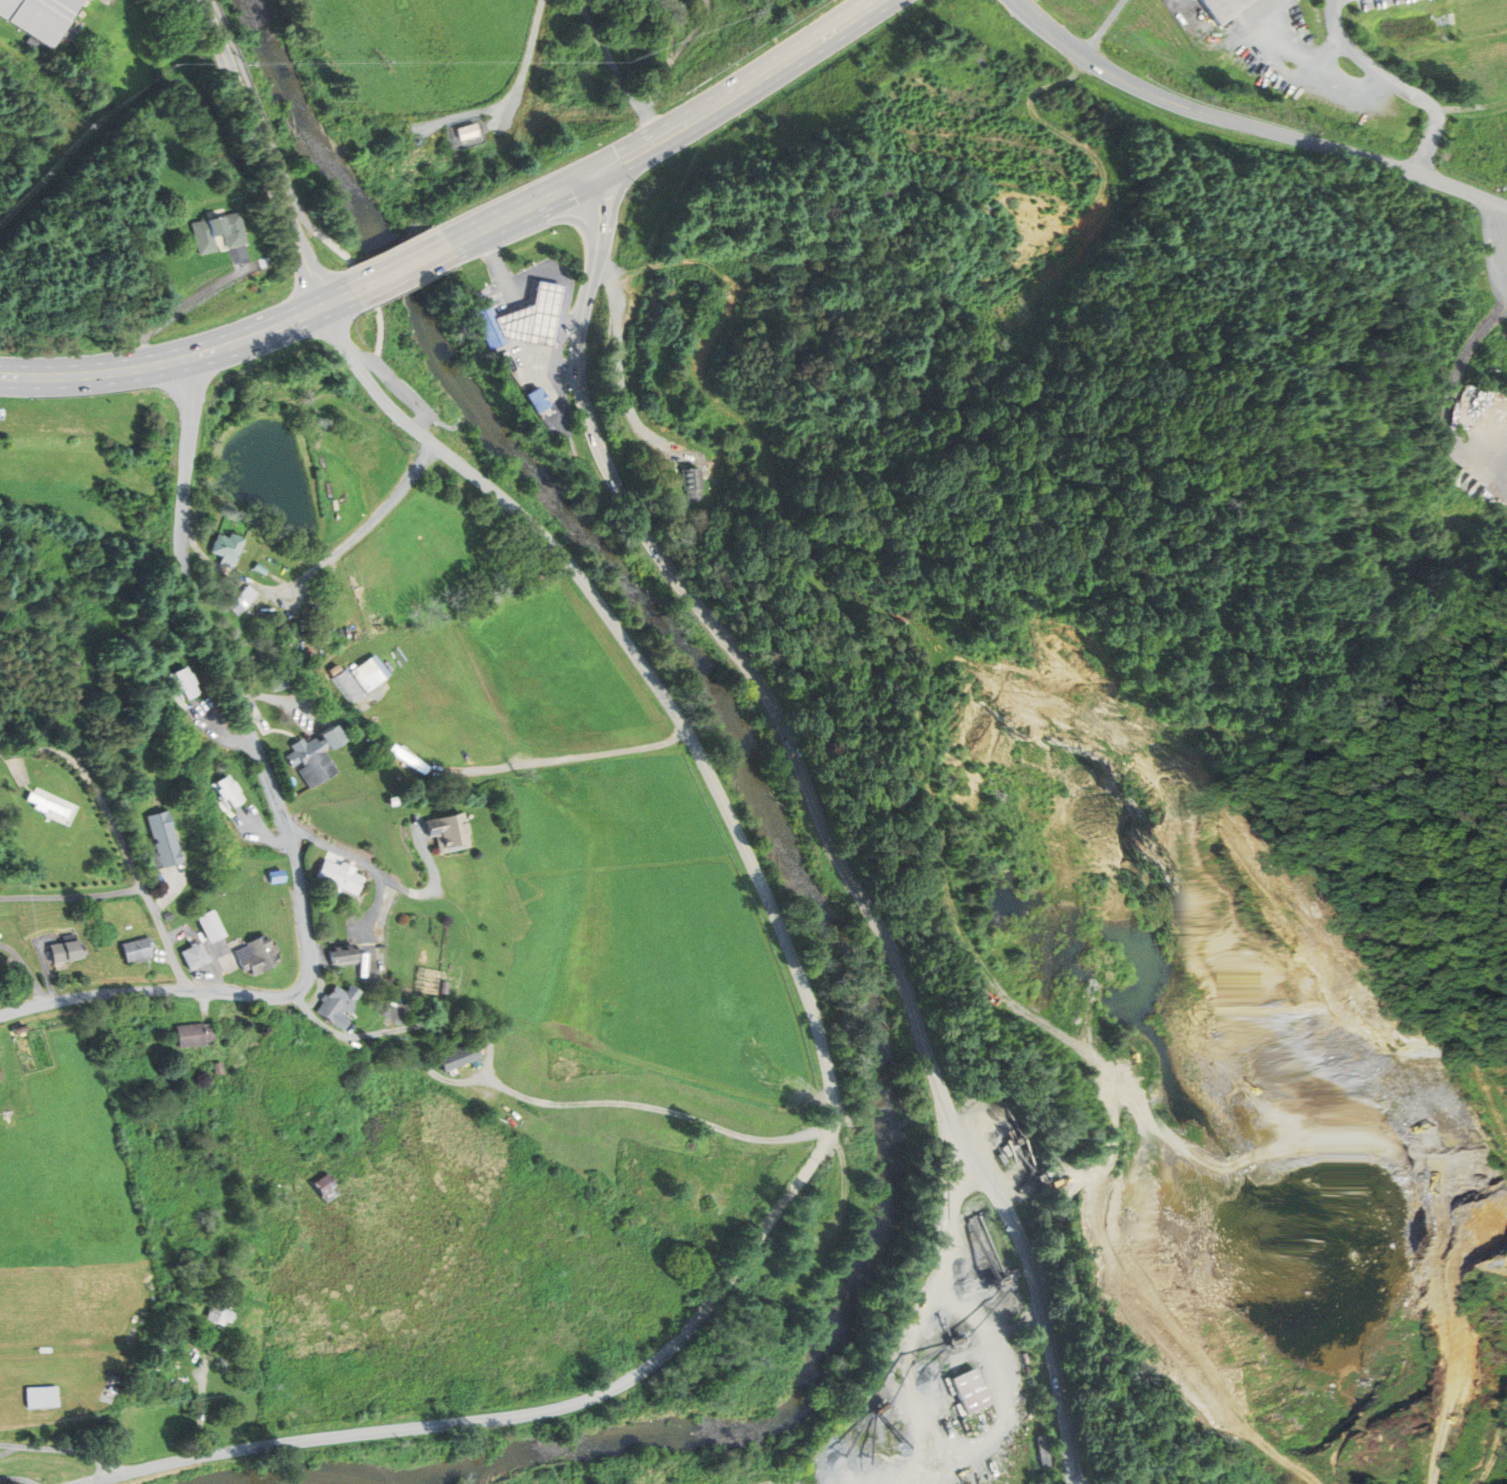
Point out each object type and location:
building: (1221, 8)
road: (1181, 13)
building: (40, 16)
road: (1105, 28)
road: (1216, 46)
road: (526, 60)
road: (1258, 66)
road: (616, 71)
road: (1396, 83)
road: (744, 87)
road: (1338, 93)
road: (1047, 118)
road: (1251, 126)
building: (467, 132)
road: (272, 140)
road: (261, 150)
river: (325, 167)
traffic signals: (603, 170)
road: (526, 206)
building: (218, 232)
road: (1499, 238)
road: (399, 266)
road: (566, 290)
road: (517, 319)
building: (526, 321)
road: (377, 333)
road: (180, 358)
road: (623, 368)
parking lot: (400, 387)
road: (400, 388)
building: (541, 401)
building: (694, 486)
building: (229, 549)
road: (319, 566)
building: (261, 569)
building: (248, 594)
building: (237, 603)
building: (368, 674)
road: (999, 678)
building: (279, 683)
building: (185, 684)
building: (349, 686)
building: (317, 756)
road: (572, 757)
building: (410, 759)
road: (90, 783)
building: (228, 792)
building: (47, 804)
road: (826, 816)
road: (284, 817)
building: (450, 832)
building: (163, 842)
road: (375, 869)
building: (276, 876)
building: (348, 880)
road: (426, 892)
road: (71, 896)
road: (949, 902)
road: (1064, 913)
building: (168, 915)
building: (212, 926)
road: (162, 932)
building: (137, 948)
building: (66, 951)
building: (260, 955)
building: (343, 955)
building: (195, 956)
road: (1058, 970)
river: (825, 974)
building: (445, 987)
building: (338, 1005)
building: (397, 1009)
road: (404, 1029)
building: (193, 1034)
building: (459, 1057)
building: (218, 1068)
road: (831, 1075)
quarry: (1229, 1079)
building: (0, 1082)
road: (1124, 1102)
road: (630, 1104)
building: (324, 1183)
building: (938, 1211)
building: (220, 1312)
power tower: (1506, 1317)
road: (1452, 1361)
building: (974, 1390)
building: (42, 1396)
road: (1497, 1441)
road: (60, 1449)
building: (1046, 1450)
building: (1216, 1465)
river: (414, 1477)
road: (1077, 1482)

